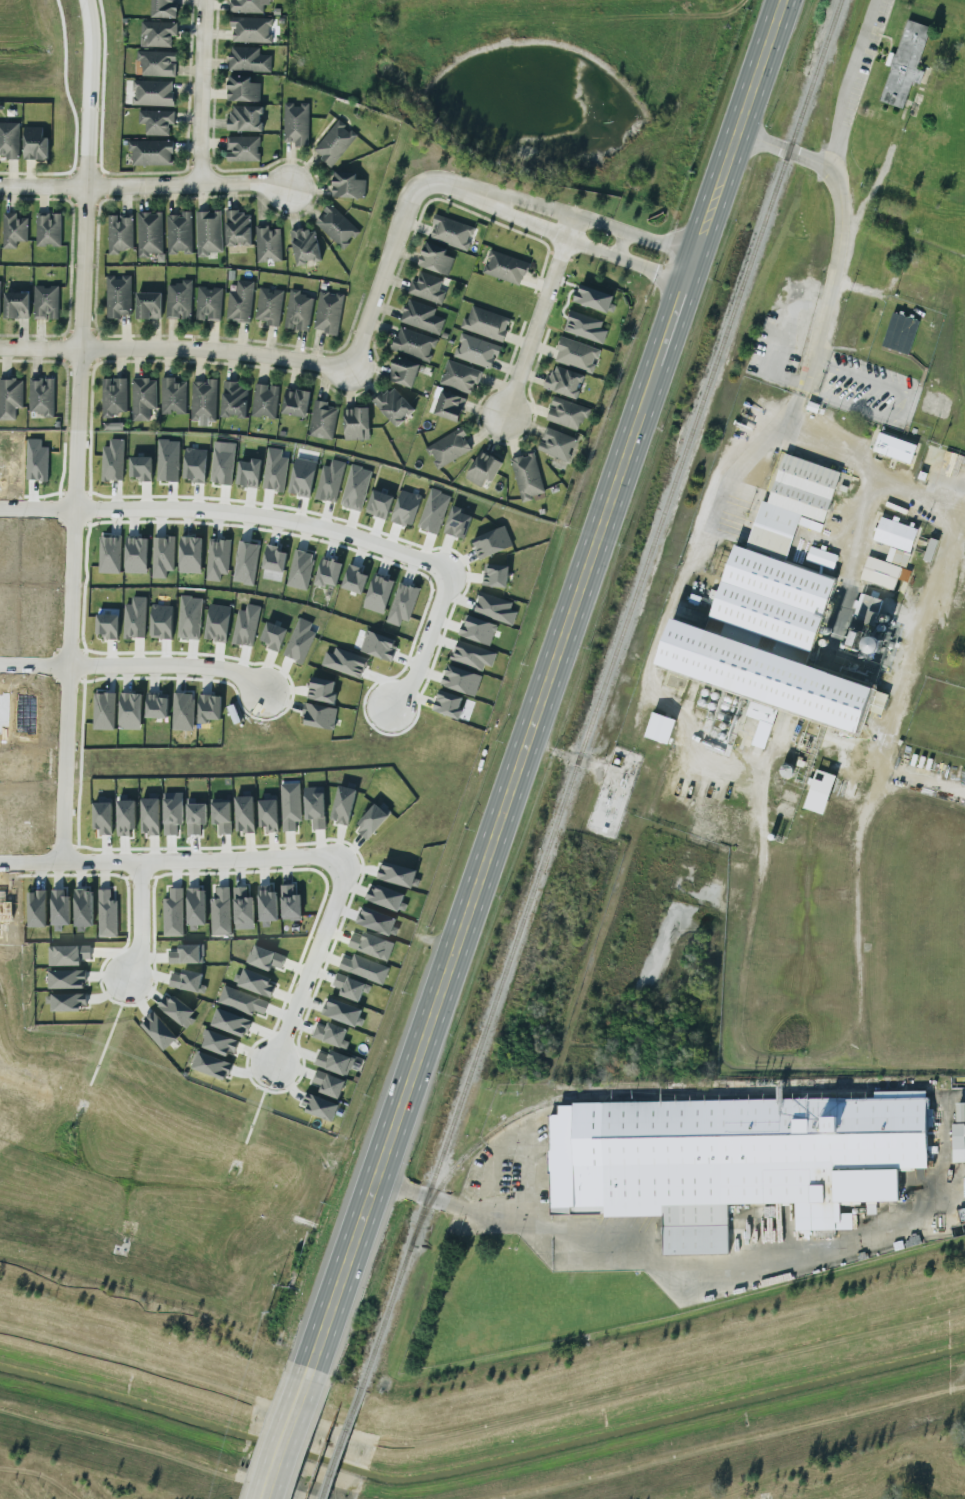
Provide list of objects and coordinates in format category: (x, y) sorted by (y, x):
building: (247, 6)
building: (164, 8)
building: (250, 29)
building: (157, 33)
building: (248, 59)
building: (157, 63)
building: (904, 64)
road: (847, 82)
building: (242, 89)
road: (202, 91)
building: (152, 93)
building: (245, 118)
building: (156, 121)
building: (295, 123)
building: (9, 140)
road: (735, 141)
building: (34, 143)
building: (334, 143)
building: (242, 148)
building: (150, 153)
road: (143, 185)
building: (347, 186)
road: (554, 209)
road: (84, 212)
building: (335, 226)
building: (238, 228)
building: (48, 229)
building: (13, 230)
road: (546, 231)
building: (208, 232)
building: (452, 232)
building: (119, 233)
building: (149, 233)
building: (179, 233)
road: (839, 234)
road: (659, 242)
road: (617, 243)
building: (267, 244)
road: (393, 244)
building: (305, 246)
building: (435, 259)
building: (505, 267)
road: (649, 269)
building: (0, 284)
building: (426, 288)
building: (118, 296)
building: (593, 298)
building: (178, 300)
building: (45, 302)
building: (240, 302)
building: (208, 303)
building: (16, 305)
building: (148, 305)
building: (268, 306)
building: (298, 311)
building: (328, 312)
road: (536, 314)
building: (421, 317)
building: (485, 323)
road: (671, 323)
building: (585, 327)
building: (900, 333)
building: (413, 344)
road: (174, 349)
building: (476, 351)
building: (576, 355)
building: (403, 372)
building: (459, 376)
building: (564, 382)
building: (41, 396)
building: (113, 396)
building: (172, 396)
building: (10, 397)
building: (143, 398)
building: (233, 400)
building: (203, 401)
building: (264, 401)
building: (295, 402)
building: (393, 405)
building: (448, 406)
road: (905, 408)
building: (566, 413)
building: (322, 420)
building: (355, 422)
building: (112, 426)
building: (556, 444)
building: (894, 447)
building: (448, 448)
building: (112, 460)
building: (167, 460)
building: (222, 462)
building: (194, 464)
building: (140, 468)
building: (482, 469)
building: (274, 470)
building: (248, 473)
building: (527, 476)
building: (302, 477)
building: (329, 480)
building: (355, 488)
building: (379, 504)
building: (406, 508)
building: (433, 510)
road: (36, 515)
road: (953, 520)
building: (457, 523)
road: (259, 524)
building: (895, 534)
building: (491, 542)
building: (109, 554)
building: (135, 554)
building: (190, 554)
building: (162, 556)
building: (821, 557)
building: (898, 557)
building: (216, 558)
building: (274, 558)
building: (245, 562)
building: (300, 569)
building: (327, 572)
building: (883, 573)
building: (495, 575)
building: (354, 579)
building: (378, 593)
building: (402, 603)
building: (875, 604)
building: (495, 608)
building: (776, 613)
building: (189, 617)
building: (135, 618)
building: (160, 621)
building: (217, 623)
building: (245, 625)
building: (477, 630)
road: (916, 635)
building: (273, 636)
building: (300, 640)
road: (69, 643)
building: (378, 645)
building: (871, 646)
road: (428, 649)
building: (472, 655)
building: (345, 662)
road: (34, 673)
road: (168, 678)
building: (461, 680)
building: (322, 690)
railway: (601, 694)
building: (449, 704)
building: (156, 705)
building: (208, 708)
building: (103, 711)
building: (130, 711)
building: (182, 711)
building: (319, 716)
building: (659, 728)
road: (564, 753)
building: (819, 791)
building: (343, 805)
building: (290, 806)
building: (314, 806)
building: (172, 812)
building: (244, 814)
building: (268, 814)
building: (221, 815)
building: (149, 816)
building: (195, 816)
building: (102, 817)
building: (125, 817)
building: (372, 820)
road: (31, 861)
road: (482, 866)
road: (193, 868)
building: (396, 874)
building: (385, 897)
building: (267, 903)
building: (290, 903)
building: (59, 906)
building: (82, 907)
building: (195, 907)
building: (36, 908)
building: (243, 908)
building: (220, 912)
building: (173, 913)
building: (106, 914)
building: (377, 921)
road: (139, 931)
building: (370, 945)
building: (187, 954)
building: (68, 955)
building: (265, 958)
road: (316, 966)
building: (364, 968)
building: (66, 979)
building: (187, 981)
building: (255, 982)
building: (350, 987)
building: (66, 1001)
building: (242, 1001)
building: (176, 1009)
building: (341, 1012)
building: (230, 1022)
building: (158, 1031)
building: (331, 1034)
building: (219, 1043)
building: (333, 1062)
building: (211, 1066)
building: (328, 1084)
building: (318, 1106)
building: (960, 1112)
building: (958, 1143)
building: (731, 1160)
road: (467, 1207)
road: (771, 1264)
road: (286, 1433)
railway: (340, 1444)
river: (482, 1467)

